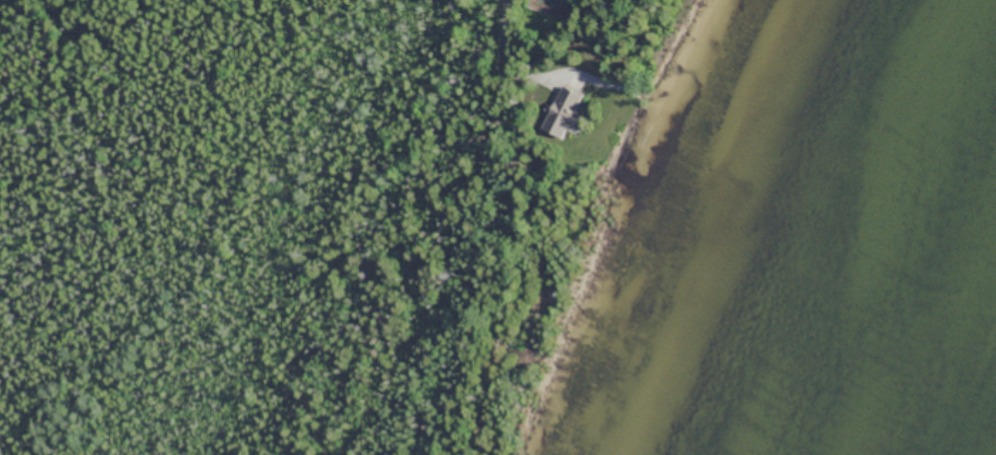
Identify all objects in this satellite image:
road: (509, 23)
building: (561, 112)

